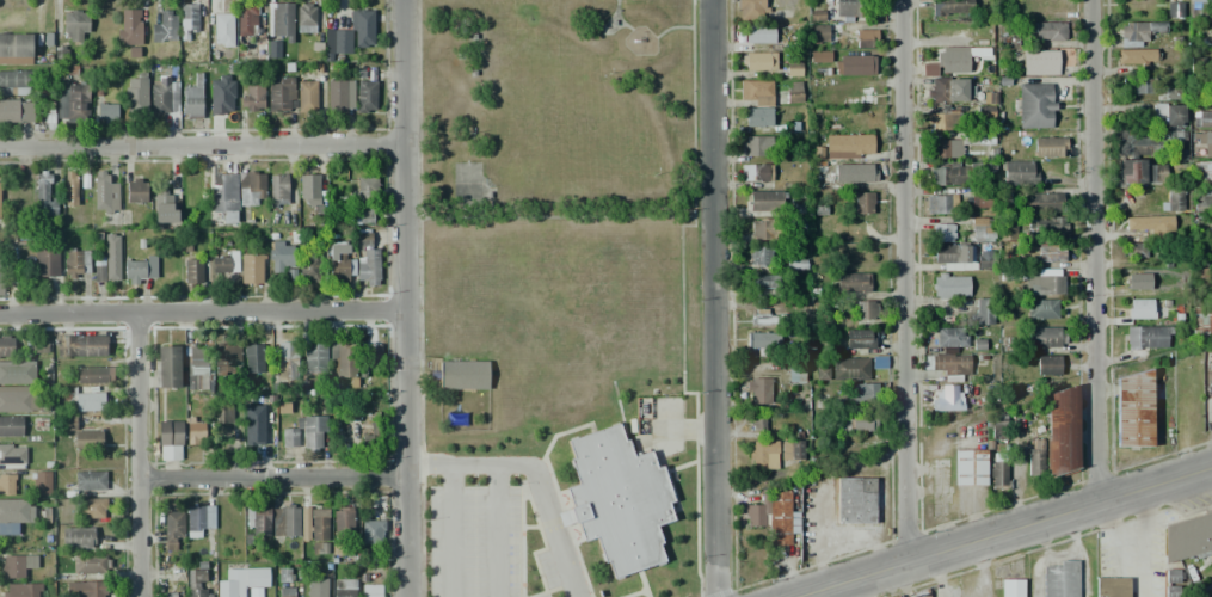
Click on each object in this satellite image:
building: (850, 7)
building: (952, 7)
building: (1200, 7)
building: (749, 10)
building: (1174, 10)
building: (304, 17)
building: (187, 20)
building: (278, 20)
building: (246, 21)
building: (164, 25)
building: (75, 26)
building: (362, 26)
building: (130, 30)
building: (223, 30)
building: (1047, 31)
building: (1142, 32)
building: (820, 33)
building: (758, 35)
building: (866, 39)
building: (338, 42)
building: (16, 45)
building: (819, 56)
building: (1138, 57)
building: (758, 61)
building: (952, 62)
building: (1040, 62)
building: (854, 66)
building: (17, 82)
building: (1211, 84)
building: (1140, 87)
building: (946, 88)
building: (756, 92)
building: (793, 92)
building: (135, 93)
building: (279, 93)
building: (306, 94)
building: (339, 94)
building: (221, 96)
building: (859, 96)
building: (164, 97)
building: (365, 97)
building: (192, 98)
building: (251, 98)
building: (72, 103)
building: (1035, 105)
building: (16, 110)
building: (106, 111)
building: (1169, 113)
building: (1201, 116)
building: (756, 117)
building: (948, 121)
building: (1153, 143)
building: (1207, 143)
building: (758, 146)
building: (848, 146)
building: (1050, 146)
building: (942, 147)
road: (203, 148)
building: (1136, 171)
building: (1202, 171)
building: (854, 172)
building: (959, 172)
building: (1017, 172)
building: (756, 173)
building: (190, 187)
building: (251, 187)
building: (69, 189)
building: (135, 190)
building: (278, 190)
building: (223, 192)
building: (104, 193)
building: (43, 196)
building: (313, 196)
building: (1174, 199)
building: (365, 201)
building: (765, 201)
building: (979, 201)
building: (1042, 202)
building: (861, 203)
building: (1201, 203)
building: (941, 204)
building: (164, 208)
building: (1146, 222)
building: (1046, 224)
building: (1009, 228)
building: (764, 229)
building: (979, 229)
building: (943, 233)
building: (1134, 250)
road: (1095, 252)
building: (1050, 253)
building: (949, 254)
building: (112, 256)
building: (759, 256)
building: (279, 257)
building: (223, 261)
building: (76, 263)
building: (339, 263)
building: (48, 264)
building: (367, 267)
building: (1, 269)
building: (98, 269)
building: (250, 269)
building: (309, 269)
building: (140, 270)
building: (192, 273)
building: (1046, 281)
building: (1138, 281)
building: (853, 282)
road: (908, 282)
building: (767, 285)
building: (950, 287)
road: (411, 297)
road: (718, 298)
road: (205, 306)
building: (1139, 308)
building: (863, 309)
building: (1041, 309)
building: (983, 312)
building: (771, 316)
building: (1201, 319)
building: (952, 337)
building: (1045, 337)
building: (1145, 337)
building: (860, 339)
building: (765, 344)
building: (978, 344)
building: (80, 345)
building: (6, 347)
building: (371, 355)
building: (253, 356)
building: (314, 357)
building: (227, 358)
building: (287, 359)
building: (342, 359)
building: (878, 362)
building: (950, 365)
building: (1047, 365)
building: (166, 367)
building: (195, 367)
building: (849, 368)
building: (17, 373)
building: (795, 373)
building: (820, 374)
building: (93, 375)
building: (461, 375)
building: (757, 389)
building: (863, 392)
building: (18, 398)
building: (85, 398)
building: (946, 399)
building: (1132, 410)
building: (223, 413)
building: (757, 421)
building: (857, 423)
building: (11, 425)
building: (996, 430)
building: (312, 431)
building: (1060, 431)
building: (170, 432)
building: (195, 432)
building: (252, 433)
building: (370, 436)
building: (88, 439)
building: (790, 449)
road: (143, 451)
building: (763, 454)
building: (12, 455)
building: (1033, 462)
building: (970, 467)
road: (277, 470)
building: (998, 474)
road: (534, 475)
building: (90, 480)
building: (42, 482)
building: (7, 485)
building: (617, 499)
building: (855, 500)
building: (91, 507)
building: (16, 510)
building: (199, 517)
building: (774, 517)
building: (257, 519)
building: (285, 522)
building: (171, 527)
building: (342, 528)
building: (318, 530)
road: (450, 531)
road: (497, 531)
building: (373, 533)
road: (1007, 534)
building: (1187, 536)
building: (76, 537)
building: (12, 541)
building: (90, 564)
building: (14, 565)
building: (283, 576)
building: (1173, 576)
building: (1060, 578)
building: (197, 580)
building: (241, 580)
building: (1111, 586)
building: (315, 587)
building: (345, 587)
building: (1013, 587)
building: (87, 589)
building: (20, 590)
building: (370, 590)
building: (287, 591)
building: (172, 593)

